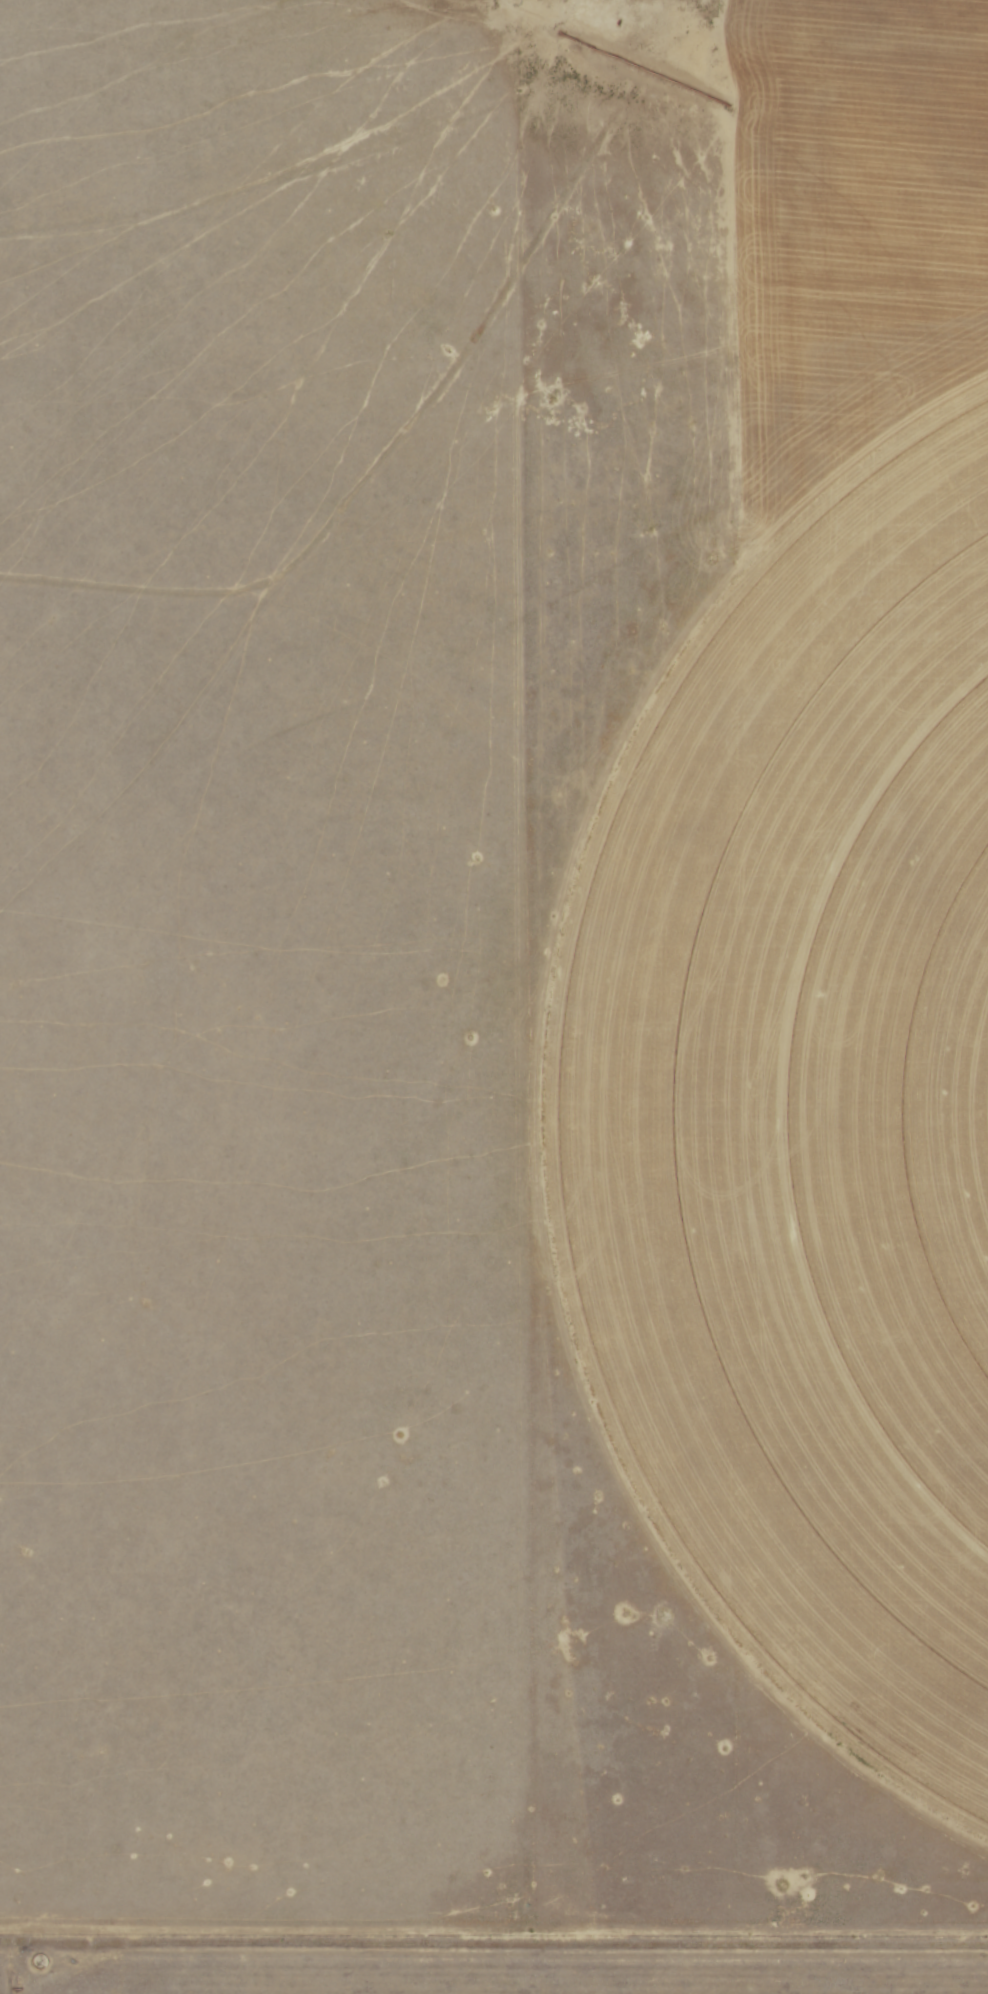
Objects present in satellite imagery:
road: (884, 4)
road: (378, 1929)
road: (872, 1930)

